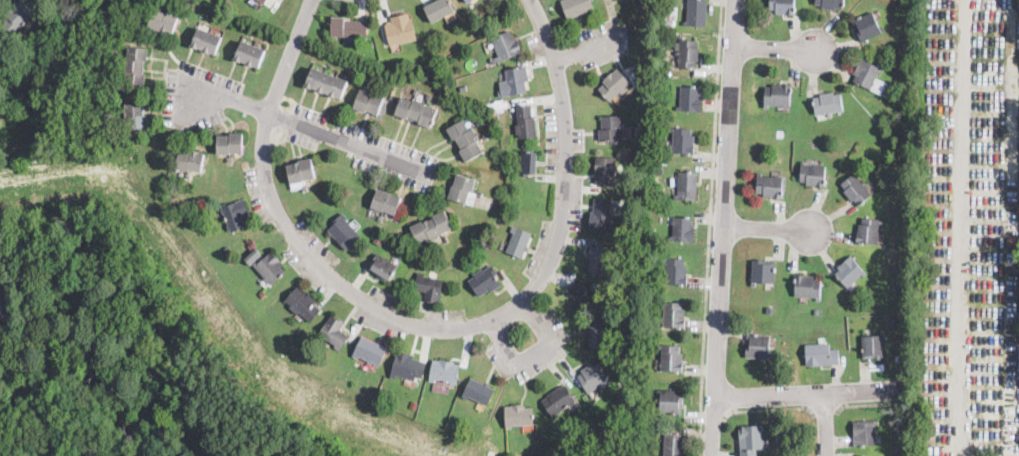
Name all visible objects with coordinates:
building: (466, 0)
building: (263, 1)
building: (224, 2)
building: (830, 4)
building: (577, 6)
building: (782, 6)
building: (168, 7)
building: (438, 9)
building: (478, 9)
building: (671, 13)
building: (696, 13)
building: (18, 15)
building: (163, 20)
building: (668, 22)
building: (343, 26)
building: (867, 26)
building: (400, 29)
building: (206, 40)
building: (505, 45)
road: (773, 47)
road: (588, 48)
building: (370, 51)
building: (687, 53)
building: (249, 54)
building: (121, 58)
building: (135, 66)
building: (119, 73)
building: (869, 76)
building: (514, 81)
building: (326, 83)
building: (374, 85)
building: (614, 85)
building: (463, 87)
building: (414, 91)
building: (777, 95)
building: (428, 96)
building: (690, 99)
building: (368, 101)
building: (828, 103)
building: (653, 105)
building: (415, 110)
building: (135, 116)
building: (121, 117)
building: (524, 121)
road: (302, 125)
building: (611, 129)
building: (779, 133)
building: (484, 135)
building: (465, 139)
building: (682, 140)
building: (229, 143)
building: (780, 147)
building: (847, 148)
building: (761, 154)
building: (229, 159)
building: (189, 160)
building: (528, 162)
building: (301, 170)
building: (604, 171)
building: (812, 174)
building: (187, 175)
building: (770, 185)
building: (687, 186)
building: (304, 187)
building: (461, 188)
building: (661, 189)
building: (855, 189)
building: (478, 193)
building: (385, 201)
building: (235, 214)
building: (601, 214)
building: (379, 217)
building: (431, 227)
road: (709, 227)
road: (724, 228)
road: (768, 228)
building: (682, 229)
building: (868, 230)
building: (343, 232)
building: (379, 238)
building: (446, 239)
building: (518, 241)
building: (903, 241)
building: (433, 246)
building: (252, 256)
building: (599, 261)
building: (269, 267)
building: (384, 267)
building: (849, 271)
building: (676, 272)
building: (763, 272)
building: (484, 280)
building: (807, 286)
building: (429, 287)
building: (898, 287)
building: (262, 295)
building: (582, 296)
building: (302, 303)
building: (770, 308)
building: (2, 309)
building: (817, 310)
building: (673, 315)
building: (894, 322)
road: (426, 327)
building: (333, 332)
building: (596, 333)
building: (757, 346)
building: (874, 346)
building: (369, 350)
building: (821, 354)
road: (534, 356)
building: (671, 358)
building: (407, 366)
building: (444, 371)
building: (593, 377)
building: (478, 391)
road: (806, 393)
building: (625, 397)
building: (558, 400)
building: (671, 401)
building: (413, 403)
road: (866, 403)
road: (764, 409)
road: (824, 410)
building: (518, 415)
building: (640, 416)
road: (714, 417)
road: (827, 423)
building: (864, 432)
building: (901, 433)
building: (750, 440)
building: (673, 444)
building: (868, 455)

